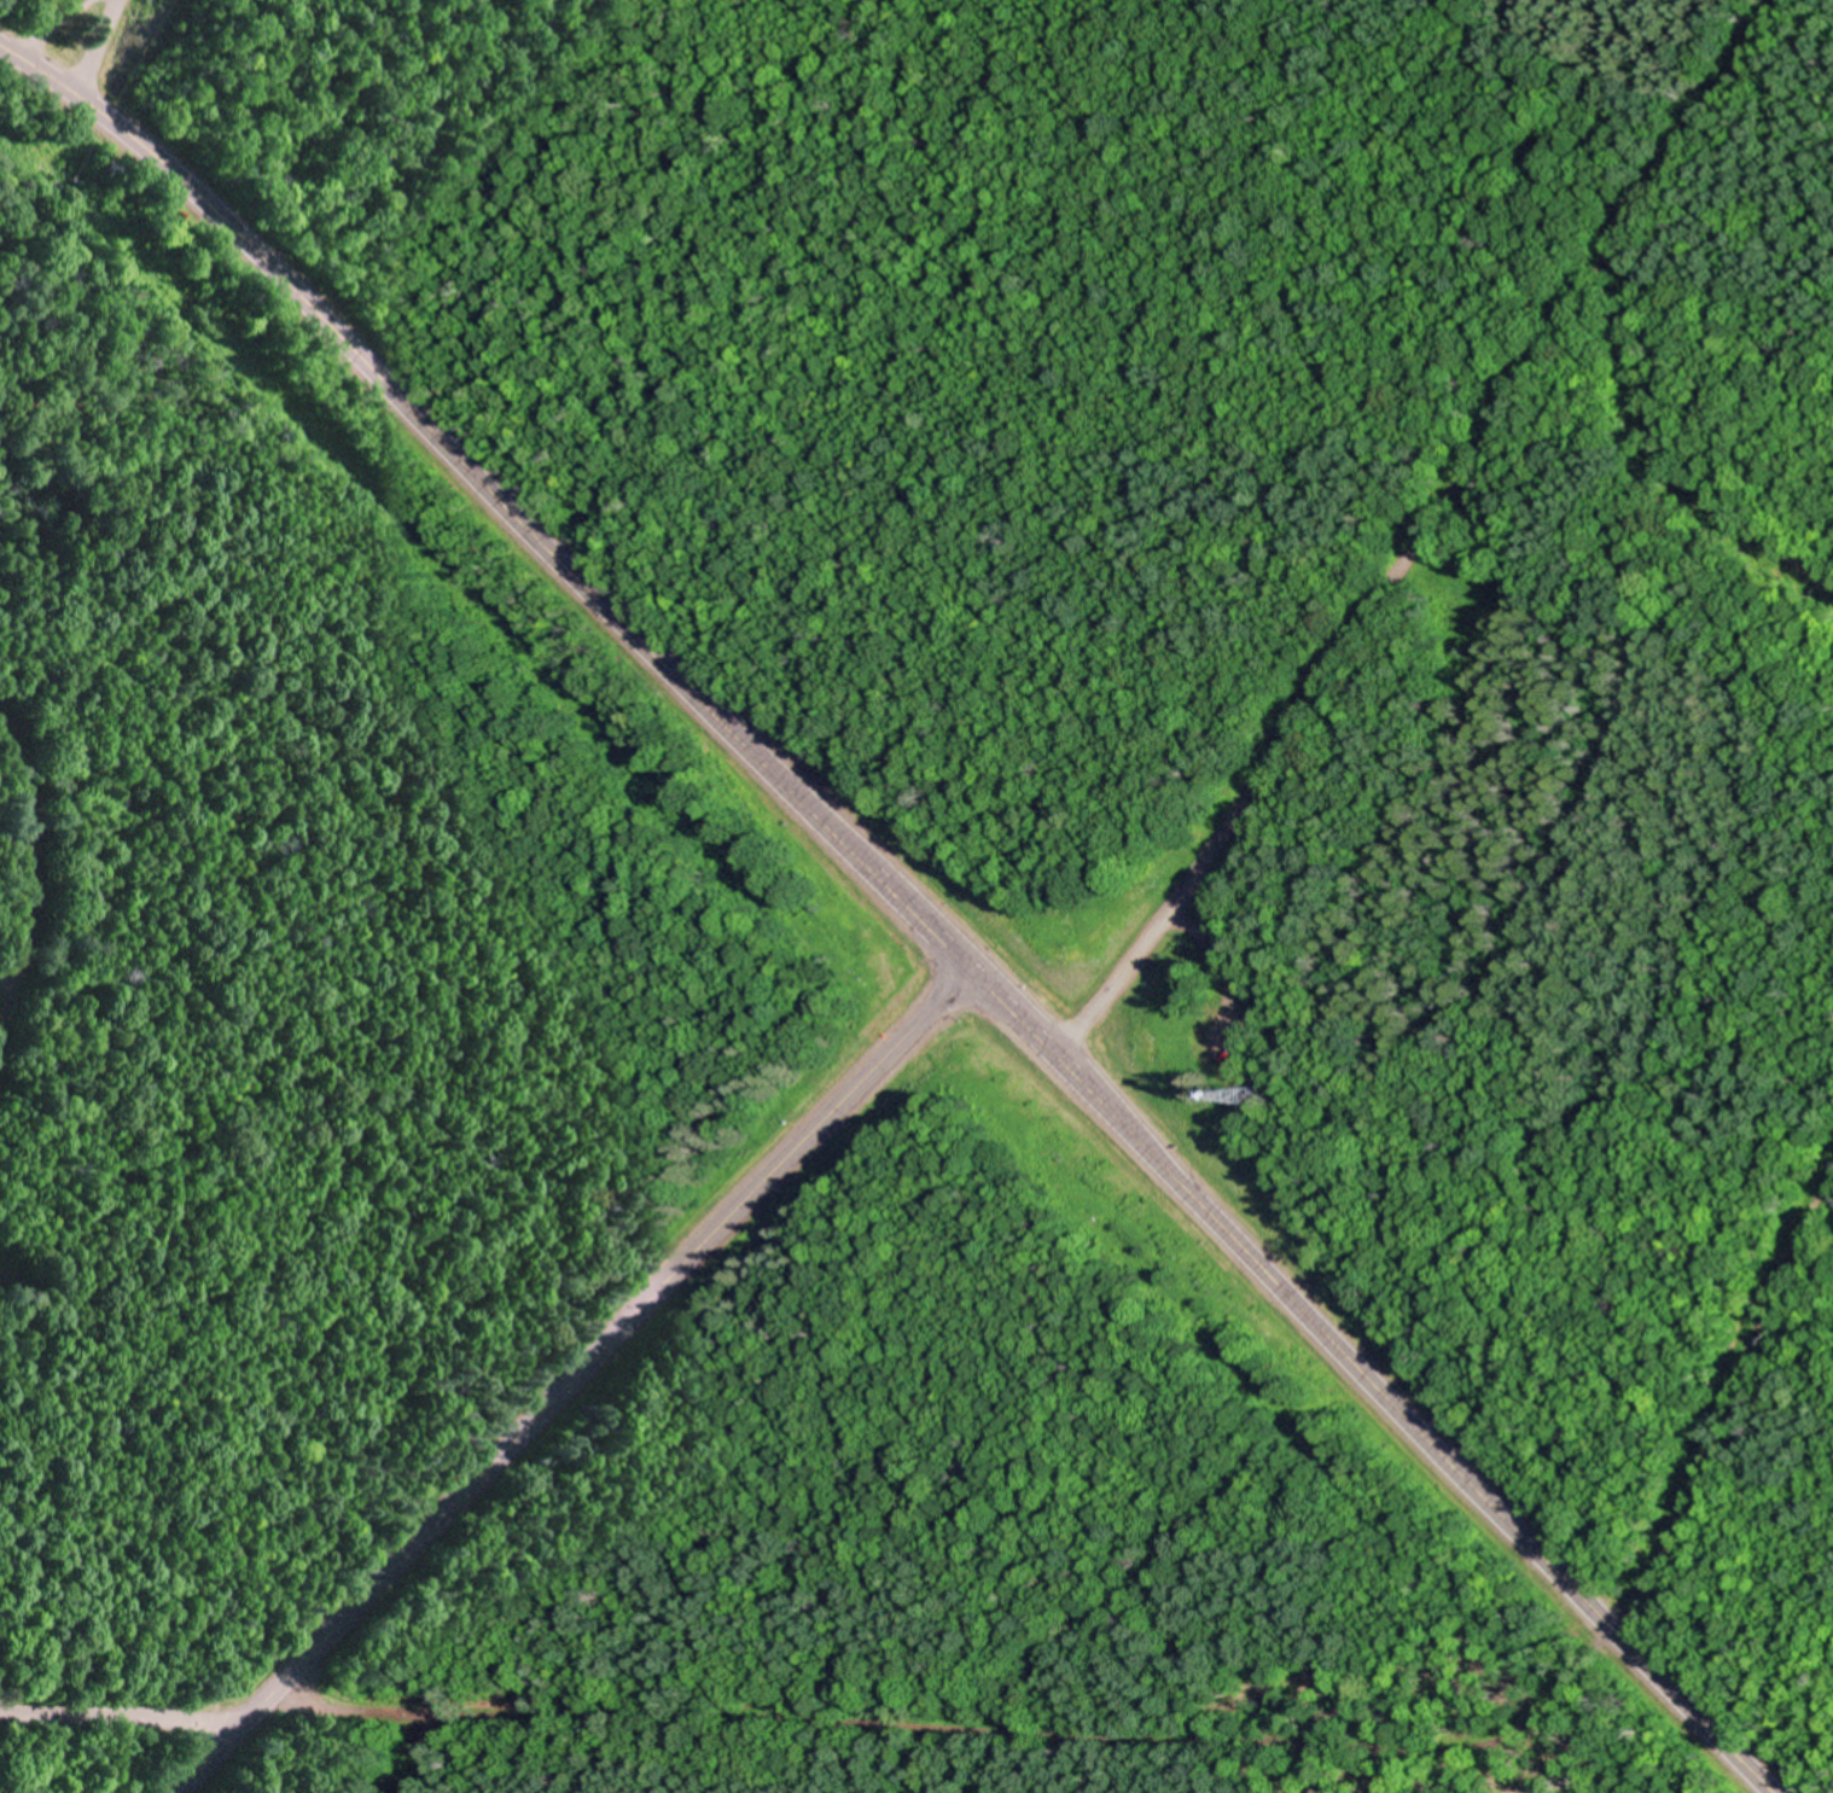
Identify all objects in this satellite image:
road: (106, 51)
road: (164, 165)
road: (1432, 534)
road: (638, 638)
road: (1371, 1379)
road: (580, 1380)
road: (130, 1708)

